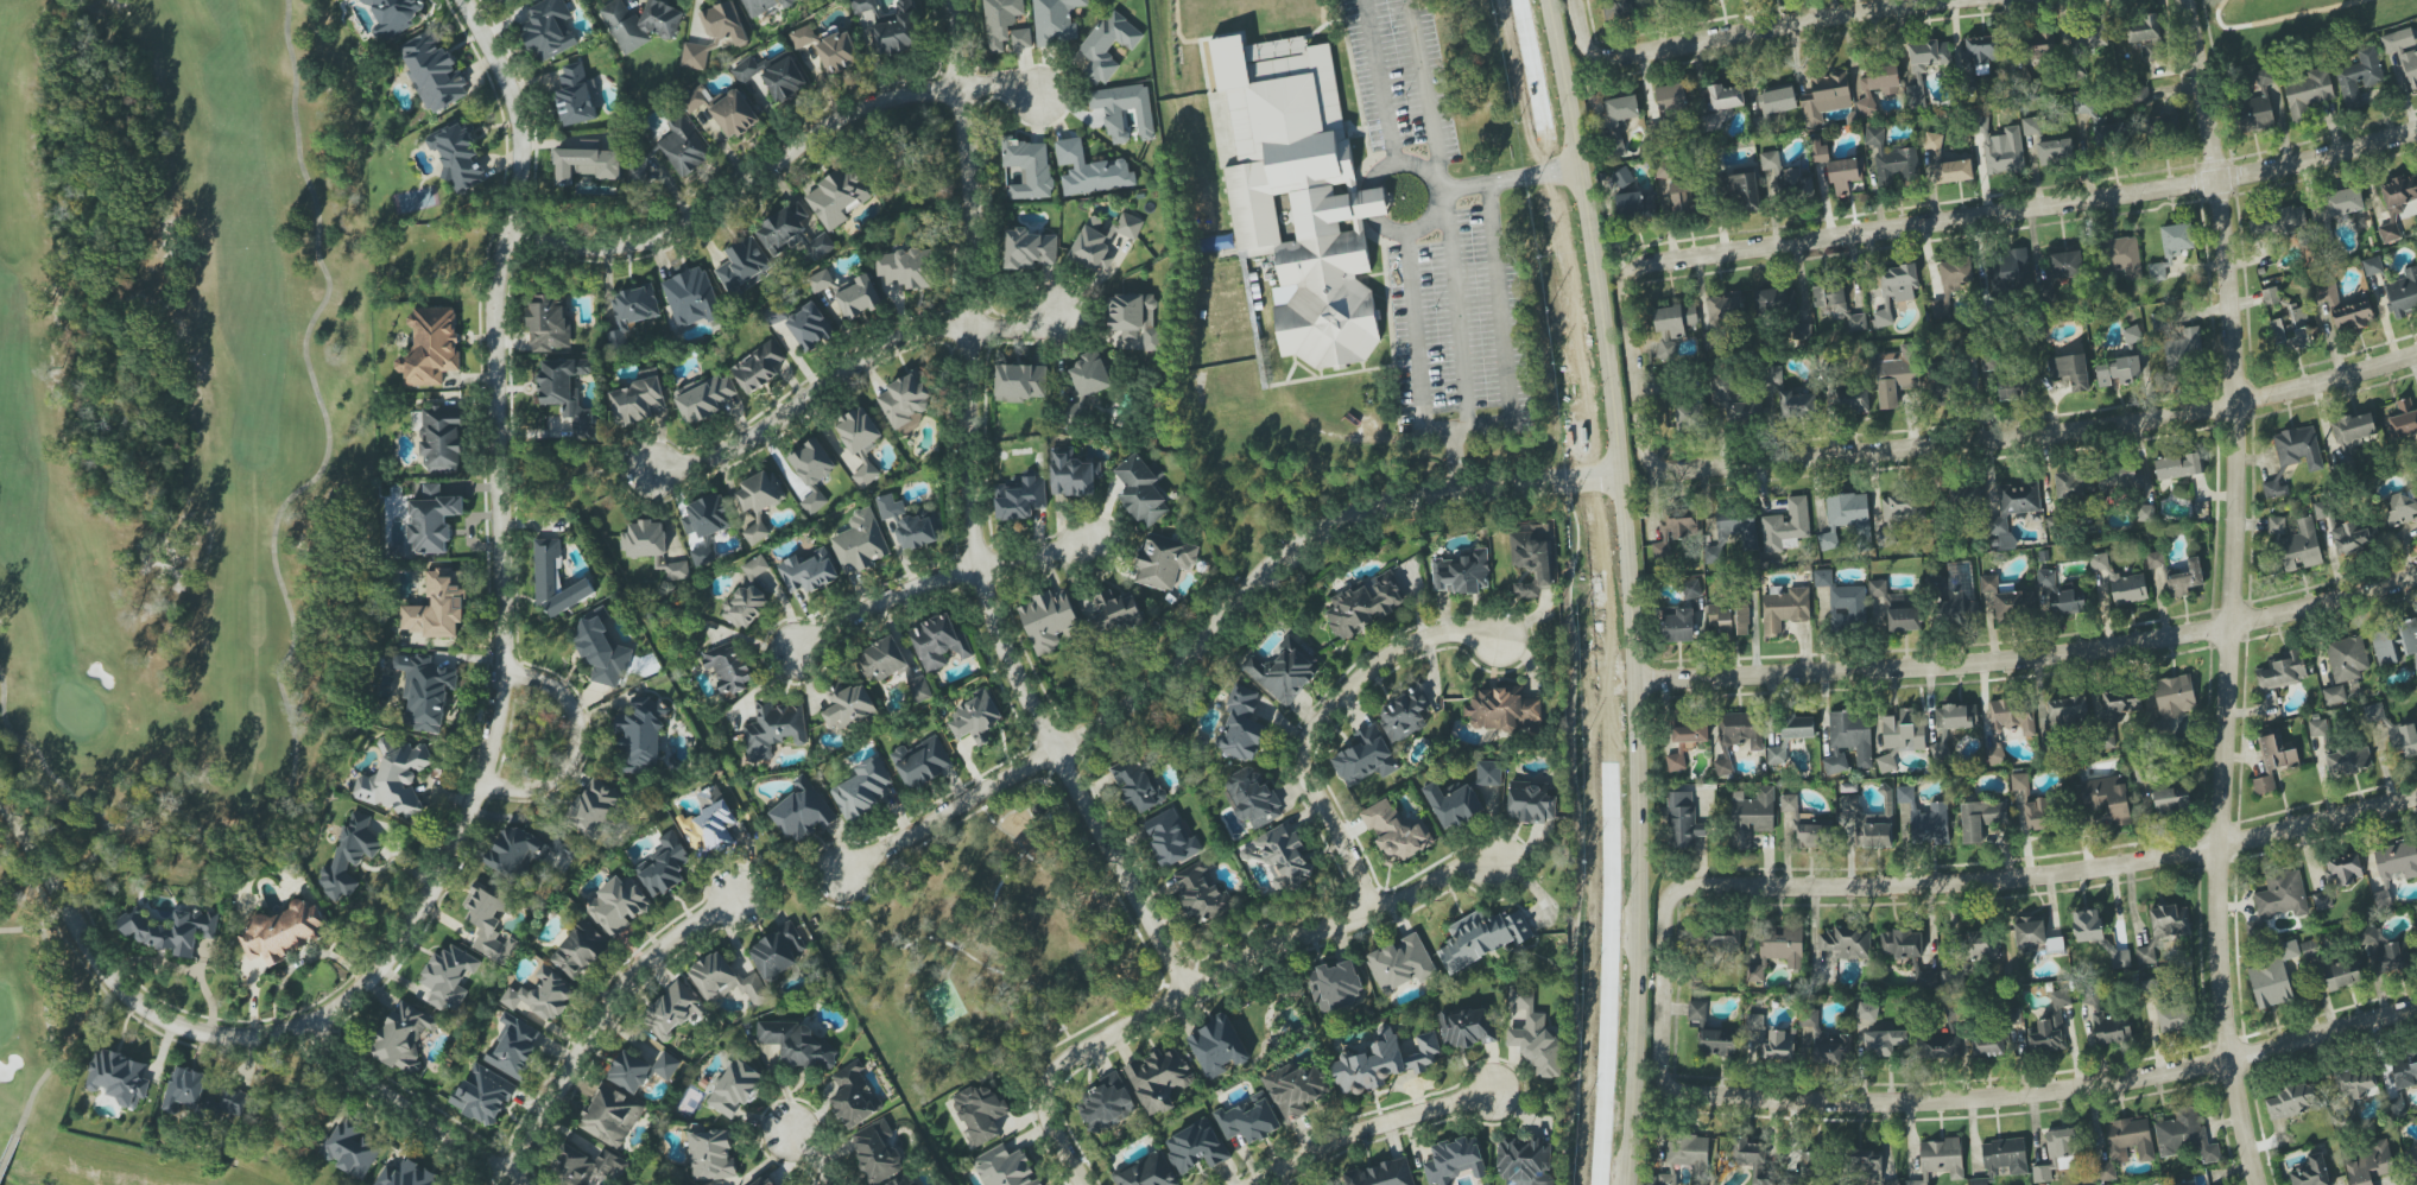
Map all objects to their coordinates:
building: (508, 0)
building: (1658, 0)
road: (1578, 4)
building: (763, 7)
building: (866, 8)
building: (1621, 9)
building: (393, 15)
road: (2278, 18)
building: (1056, 20)
building: (1000, 21)
building: (640, 23)
building: (725, 24)
building: (549, 28)
building: (897, 31)
road: (1733, 32)
building: (2089, 36)
building: (2146, 36)
building: (803, 37)
building: (1021, 38)
building: (2039, 44)
building: (1108, 45)
building: (1983, 49)
building: (839, 52)
building: (2403, 52)
building: (694, 56)
building: (1929, 56)
building: (751, 69)
building: (434, 71)
building: (2359, 77)
building: (785, 78)
road: (1375, 83)
building: (1878, 85)
road: (1428, 88)
building: (2308, 93)
building: (2140, 95)
building: (576, 96)
building: (1827, 97)
building: (1671, 99)
building: (1780, 100)
building: (1723, 104)
building: (2258, 104)
building: (2083, 106)
building: (725, 109)
building: (1621, 109)
building: (1124, 110)
building: (2162, 126)
building: (2031, 127)
building: (2109, 134)
building: (1875, 138)
building: (1932, 145)
building: (684, 146)
building: (1616, 146)
building: (2002, 150)
building: (2055, 151)
building: (457, 154)
road: (772, 160)
building: (1770, 160)
building: (587, 164)
building: (1029, 167)
building: (1898, 167)
building: (1090, 171)
building: (1953, 171)
building: (1845, 175)
building: (1622, 177)
road: (1510, 180)
building: (1792, 183)
road: (1371, 184)
building: (1742, 190)
building: (1293, 194)
building: (1682, 197)
building: (837, 198)
building: (2343, 202)
building: (2396, 203)
building: (1635, 204)
building: (2277, 223)
road: (1867, 229)
building: (792, 233)
building: (2176, 240)
building: (1102, 241)
building: (1029, 249)
building: (2124, 256)
building: (2067, 265)
building: (744, 266)
building: (2372, 266)
building: (2010, 267)
building: (907, 268)
building: (2157, 272)
building: (820, 280)
building: (1951, 283)
building: (1894, 290)
building: (2403, 293)
building: (2270, 296)
building: (858, 297)
building: (1830, 297)
building: (691, 298)
building: (1776, 302)
building: (2345, 308)
building: (632, 311)
building: (776, 313)
road: (1457, 313)
building: (1725, 313)
building: (1856, 322)
building: (549, 324)
building: (1671, 327)
building: (811, 328)
building: (2292, 329)
building: (1803, 331)
building: (2132, 335)
building: (430, 347)
building: (2183, 347)
building: (1988, 362)
building: (758, 367)
road: (848, 368)
building: (2070, 370)
building: (2119, 372)
building: (1896, 374)
building: (1020, 382)
building: (1721, 384)
building: (1941, 384)
building: (2011, 387)
building: (568, 393)
building: (706, 397)
building: (1790, 397)
building: (640, 399)
building: (905, 399)
building: (1850, 401)
building: (1690, 417)
building: (2403, 420)
road: (1489, 423)
road: (2100, 425)
building: (2353, 427)
building: (441, 438)
building: (860, 442)
building: (2298, 448)
road: (1454, 458)
park: (163, 464)
building: (2177, 465)
building: (812, 471)
building: (1073, 474)
building: (2099, 481)
building: (1141, 489)
building: (2276, 489)
building: (1964, 496)
building: (1020, 499)
building: (759, 502)
building: (1904, 507)
building: (2402, 507)
building: (2013, 508)
building: (2145, 513)
building: (1843, 515)
building: (707, 518)
building: (432, 519)
road: (976, 521)
building: (907, 524)
building: (1786, 524)
building: (1675, 528)
building: (1732, 533)
road: (500, 538)
building: (1887, 538)
building: (2352, 538)
building: (645, 539)
building: (860, 543)
building: (2296, 544)
building: (702, 556)
building: (1532, 558)
building: (2155, 559)
building: (1163, 562)
building: (2099, 562)
building: (755, 568)
building: (677, 570)
building: (809, 572)
building: (1462, 574)
building: (2187, 578)
building: (556, 579)
road: (936, 583)
building: (1989, 584)
building: (1878, 588)
building: (2127, 588)
road: (1631, 589)
building: (1691, 589)
road: (2232, 591)
building: (2061, 594)
building: (1951, 598)
building: (1843, 602)
building: (1365, 604)
building: (2010, 604)
building: (438, 607)
building: (746, 607)
building: (1784, 608)
building: (1114, 610)
building: (1721, 619)
building: (1742, 619)
building: (1904, 619)
building: (1048, 620)
building: (1678, 626)
road: (1220, 629)
building: (938, 642)
building: (2394, 642)
building: (602, 649)
road: (2030, 657)
building: (2347, 658)
building: (882, 659)
building: (2416, 667)
building: (728, 668)
building: (1284, 671)
building: (2283, 671)
building: (919, 687)
building: (426, 690)
building: (2334, 695)
building: (2174, 697)
building: (847, 706)
building: (1504, 710)
building: (2068, 712)
building: (2117, 712)
building: (2374, 712)
building: (1404, 715)
building: (1956, 717)
building: (975, 720)
building: (1241, 724)
building: (2008, 724)
road: (1320, 725)
building: (1797, 727)
building: (2317, 728)
building: (773, 729)
building: (1741, 729)
building: (1900, 736)
building: (641, 737)
building: (1849, 740)
building: (2403, 741)
building: (1685, 743)
road: (574, 744)
building: (1777, 754)
building: (1365, 756)
building: (2347, 759)
building: (922, 761)
building: (2273, 761)
building: (1723, 767)
building: (1488, 773)
building: (394, 778)
building: (2019, 782)
building: (1138, 785)
building: (865, 790)
building: (1252, 797)
building: (2107, 799)
building: (2171, 800)
building: (1531, 803)
building: (1454, 804)
building: (595, 807)
building: (803, 813)
building: (1752, 815)
building: (2037, 815)
building: (1981, 818)
building: (1925, 819)
building: (1683, 820)
building: (709, 823)
building: (1804, 824)
building: (1867, 825)
building: (1396, 831)
building: (1170, 837)
building: (519, 851)
building: (349, 856)
building: (1284, 857)
building: (664, 866)
building: (2394, 867)
building: (2342, 870)
road: (1930, 883)
road: (789, 885)
building: (1201, 893)
building: (2282, 895)
road: (993, 900)
building: (2321, 901)
building: (618, 906)
building: (489, 921)
building: (2164, 930)
building: (172, 931)
building: (284, 932)
building: (2036, 937)
building: (1482, 938)
building: (1716, 943)
building: (1843, 943)
building: (1902, 943)
park: (987, 944)
building: (1978, 944)
building: (580, 950)
road: (961, 950)
building: (1778, 950)
building: (2311, 950)
building: (2385, 950)
building: (778, 951)
building: (1402, 963)
road: (1245, 968)
building: (2343, 974)
building: (448, 976)
building: (2273, 976)
road: (115, 977)
building: (1926, 978)
building: (727, 980)
building: (1335, 986)
building: (2150, 986)
building: (543, 995)
building: (672, 1009)
building: (1697, 1012)
building: (1867, 1012)
building: (1951, 1012)
road: (600, 1016)
building: (2174, 1018)
building: (2106, 1019)
building: (2051, 1026)
building: (1467, 1027)
building: (1533, 1034)
building: (404, 1037)
building: (1767, 1040)
building: (1826, 1041)
building: (1717, 1043)
building: (1883, 1043)
building: (797, 1045)
building: (1988, 1045)
building: (1217, 1046)
building: (1937, 1046)
building: (514, 1047)
building: (1383, 1062)
building: (640, 1070)
building: (2405, 1071)
building: (118, 1077)
building: (1159, 1079)
building: (2356, 1082)
building: (735, 1088)
building: (185, 1089)
building: (1296, 1089)
road: (2067, 1090)
building: (483, 1095)
building: (855, 1096)
building: (233, 1101)
building: (2292, 1102)
building: (1107, 1103)
road: (413, 1109)
building: (980, 1113)
building: (612, 1116)
building: (1248, 1119)
road: (1369, 1135)
building: (2185, 1135)
building: (2126, 1143)
building: (1196, 1148)
building: (1725, 1148)
building: (1687, 1149)
building: (353, 1151)
building: (877, 1152)
road: (1063, 1152)
building: (2058, 1153)
building: (711, 1155)
building: (2005, 1155)
road: (812, 1157)
building: (1942, 1158)
building: (1752, 1159)
building: (2413, 1159)
building: (1454, 1160)
building: (1524, 1161)
building: (1811, 1164)
building: (2369, 1164)
building: (587, 1166)
building: (1866, 1166)
building: (1005, 1167)
building: (2310, 1171)
building: (1146, 1172)
building: (1381, 1174)
building: (407, 1176)
building: (1666, 1179)
building: (900, 1180)
building: (765, 1181)
building: (1978, 1181)
building: (1913, 1183)
building: (2190, 1183)
building: (1330, 1184)

